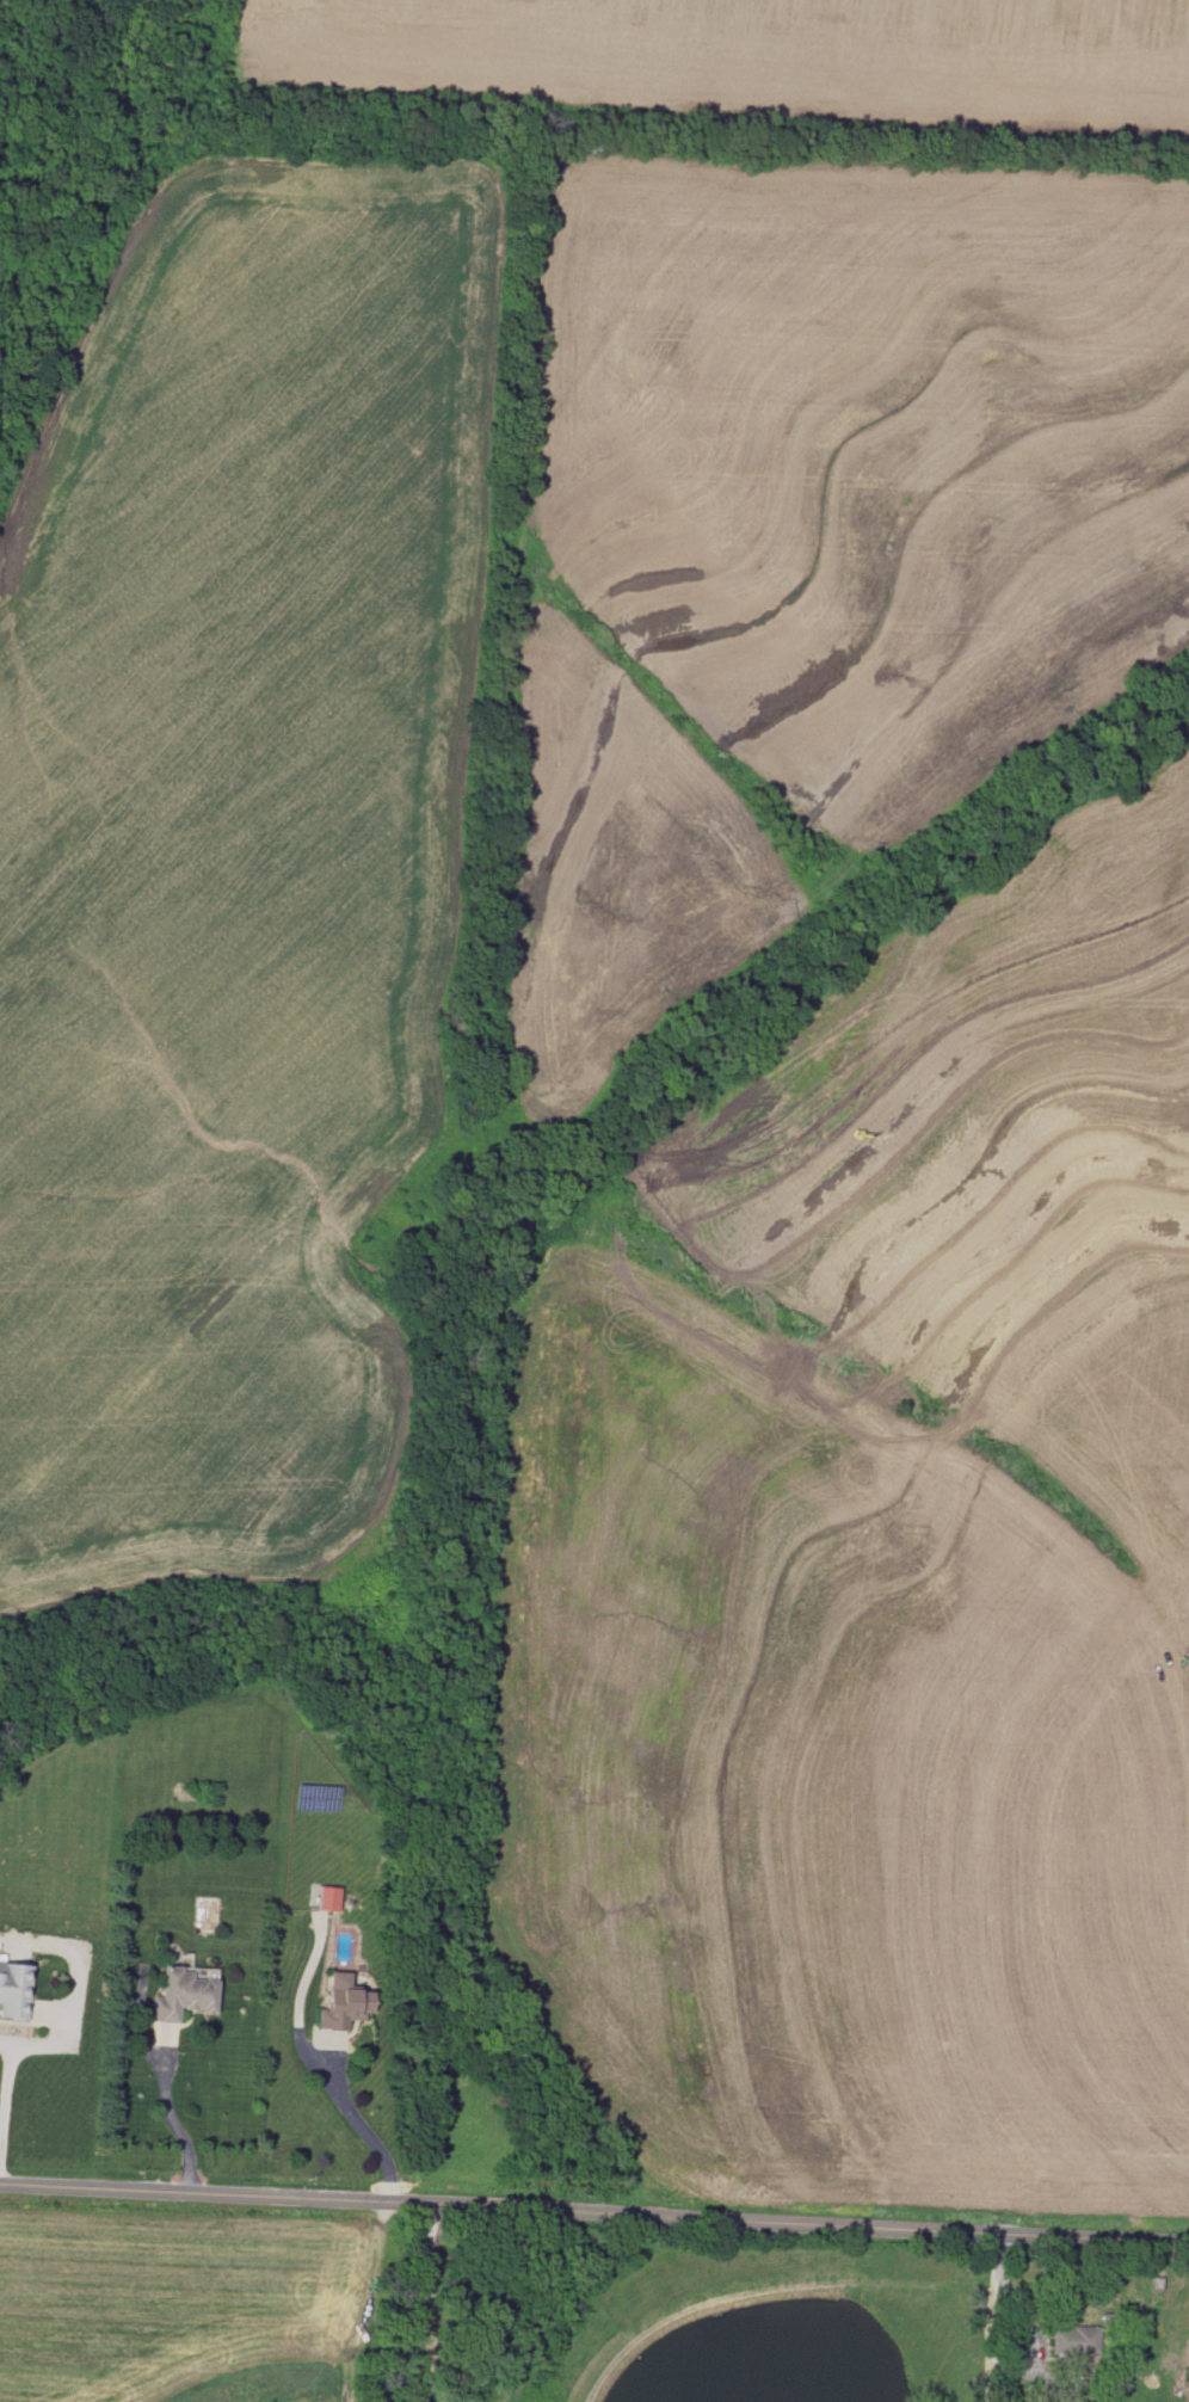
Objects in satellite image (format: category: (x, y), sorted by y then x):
crop: (729, 61)
crop: (820, 561)
crop: (238, 868)
crop: (880, 1581)
building: (328, 1898)
building: (14, 1989)
building: (184, 1994)
building: (343, 2003)
road: (10, 2053)
road: (171, 2120)
road: (359, 2125)
road: (594, 2207)
road: (1010, 2290)
crop: (181, 2301)
crop: (1151, 2327)
building: (1073, 2339)

